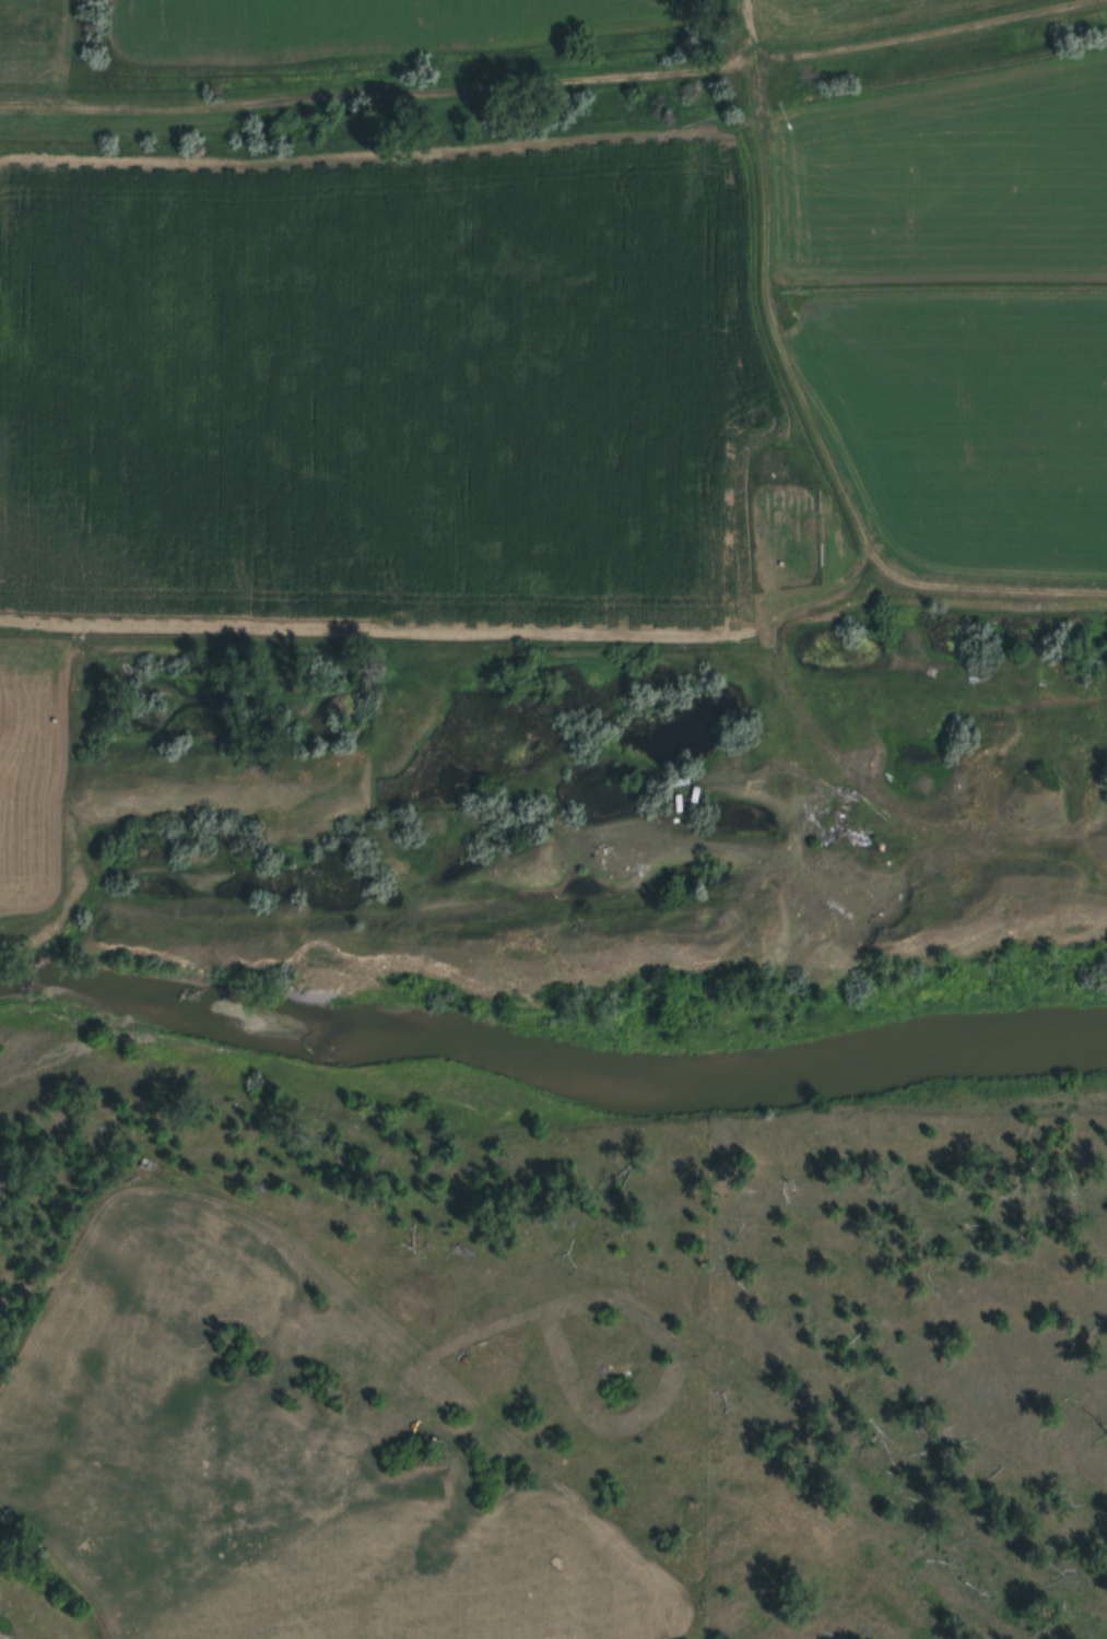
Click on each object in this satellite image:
road: (768, 8)
river: (552, 1053)

